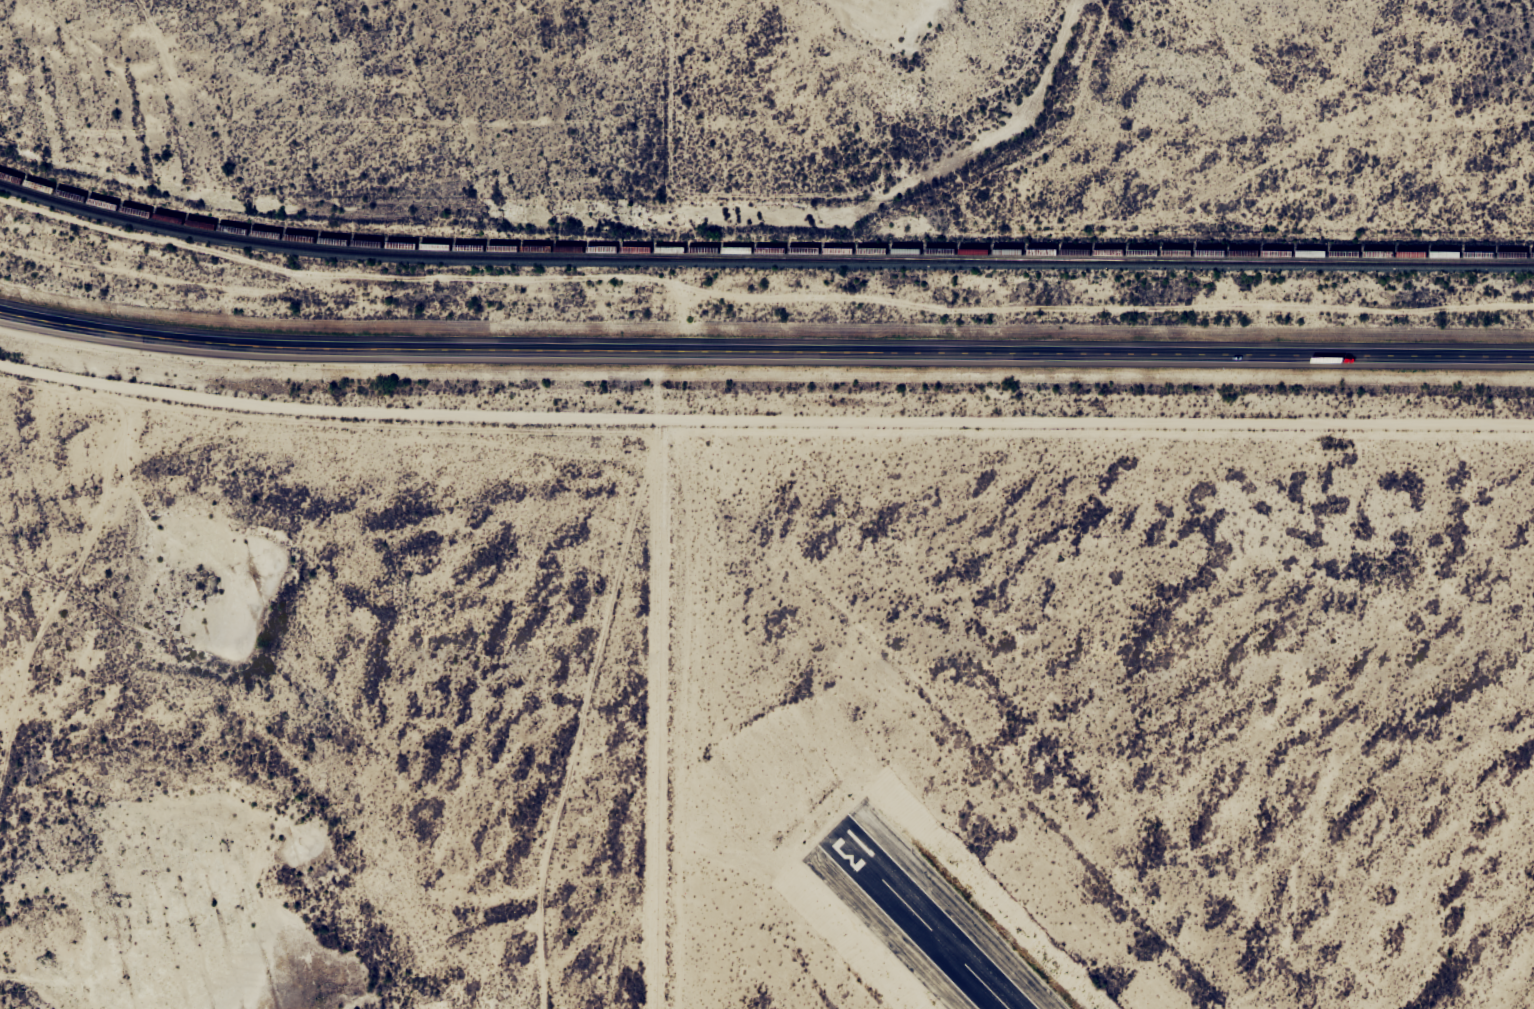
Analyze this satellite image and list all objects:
railway: (763, 250)
railway: (763, 259)
road: (765, 353)
road: (653, 681)
airport runway: (920, 920)

